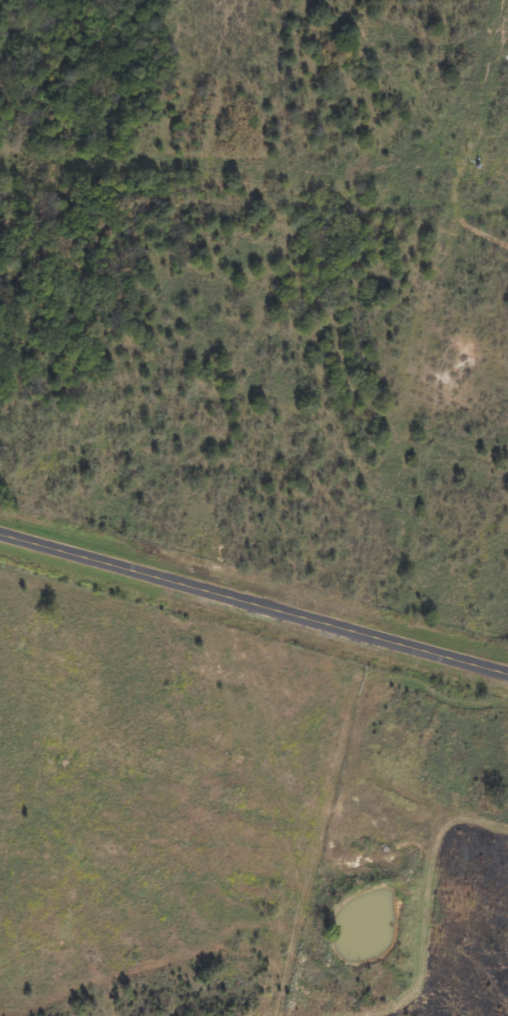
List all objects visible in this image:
road: (254, 605)

